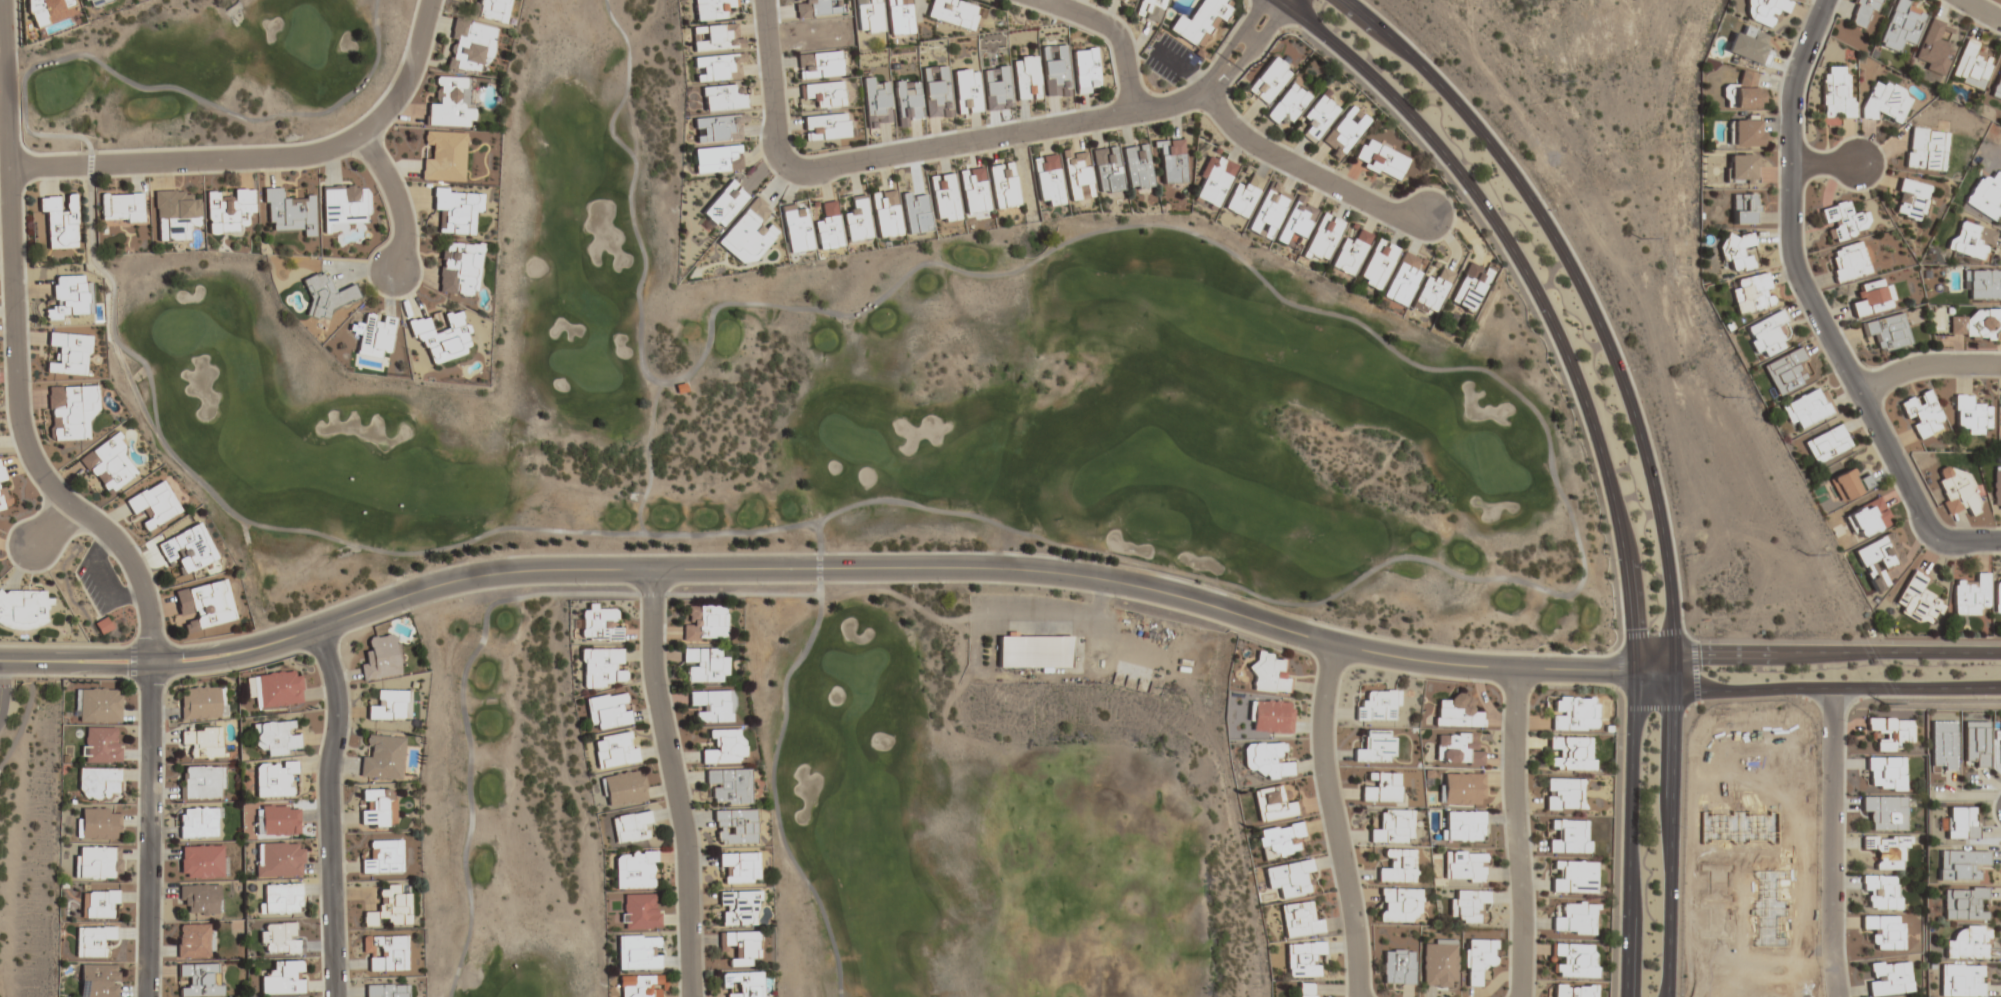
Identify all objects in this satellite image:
building: (1120, 0)
road: (1281, 2)
road: (1286, 2)
building: (93, 3)
building: (490, 9)
building: (711, 9)
building: (1149, 9)
building: (1764, 10)
road: (1981, 10)
building: (953, 12)
building: (1862, 12)
building: (52, 15)
building: (867, 16)
building: (898, 17)
street lamp: (1968, 20)
building: (1199, 22)
building: (1901, 26)
road: (1110, 31)
building: (715, 37)
road: (1233, 41)
street lamp: (1311, 46)
building: (1934, 46)
building: (469, 47)
building: (1749, 47)
road: (1251, 49)
street lamp: (1423, 54)
building: (819, 64)
building: (1971, 66)
building: (1085, 69)
park: (203, 72)
building: (1025, 78)
street lamp: (1178, 78)
street lamp: (757, 79)
building: (1269, 81)
power tower: (1559, 82)
building: (1996, 87)
building: (966, 91)
building: (1743, 93)
building: (823, 94)
building: (1834, 94)
building: (721, 98)
building: (449, 102)
building: (1885, 102)
building: (1287, 104)
building: (1317, 118)
street lamp: (1145, 125)
building: (825, 126)
building: (1344, 132)
building: (1743, 132)
road: (917, 149)
building: (1925, 149)
building: (443, 156)
road: (267, 159)
building: (716, 159)
building: (1379, 160)
building: (1171, 161)
road: (1824, 163)
building: (1137, 167)
street lamp: (1434, 167)
building: (1741, 168)
street lamp: (893, 169)
building: (1107, 169)
road: (1307, 171)
building: (1076, 174)
building: (1047, 180)
building: (1213, 180)
building: (1002, 185)
building: (973, 190)
building: (1242, 196)
building: (1986, 196)
street lamp: (23, 197)
building: (943, 197)
street lamp: (1543, 199)
building: (1910, 199)
road: (397, 200)
building: (344, 204)
building: (724, 204)
building: (121, 208)
building: (1743, 209)
building: (456, 210)
building: (288, 211)
building: (228, 212)
building: (885, 213)
building: (175, 215)
building: (856, 220)
building: (59, 221)
building: (1843, 221)
building: (1295, 223)
building: (795, 227)
building: (828, 227)
street lamp: (1452, 230)
building: (748, 233)
building: (1322, 238)
power tower: (1639, 239)
building: (1971, 240)
building: (1736, 251)
building: (1349, 253)
building: (1848, 262)
building: (1376, 264)
building: (458, 269)
building: (1402, 279)
building: (1984, 285)
building: (1469, 287)
building: (1433, 289)
building: (326, 294)
building: (1752, 294)
building: (69, 298)
building: (1871, 298)
road: (1815, 309)
street lamp: (1529, 313)
building: (1976, 324)
building: (1887, 332)
building: (375, 335)
building: (1767, 335)
building: (441, 337)
building: (69, 354)
road: (1927, 365)
street lamp: (1628, 367)
building: (1786, 371)
street lamp: (1831, 371)
street lamp: (31, 382)
power tower: (1724, 398)
building: (1807, 408)
building: (70, 411)
building: (1922, 414)
building: (1971, 416)
building: (1827, 444)
road: (1598, 447)
road: (1645, 449)
road: (643, 457)
building: (109, 465)
building: (1, 474)
building: (1850, 484)
building: (1957, 492)
building: (1997, 492)
building: (1, 500)
road: (76, 502)
building: (153, 505)
building: (1867, 518)
street lamp: (1906, 519)
road: (52, 522)
park: (867, 538)
street lamp: (137, 547)
building: (186, 549)
power tower: (1810, 556)
street lamp: (1607, 559)
building: (1878, 560)
street lamp: (11, 566)
road: (815, 573)
parking lot: (99, 581)
road: (1210, 583)
building: (1971, 596)
building: (1997, 597)
building: (1918, 600)
building: (204, 605)
road: (487, 607)
building: (23, 609)
building: (704, 624)
building: (102, 625)
building: (598, 625)
street lamp: (1701, 637)
street lamp: (1884, 639)
building: (1034, 652)
road: (1815, 655)
building: (380, 658)
building: (704, 666)
building: (601, 667)
street lamp: (233, 670)
building: (1267, 674)
building: (275, 688)
road: (1813, 690)
street lamp: (1788, 699)
street lamp: (1976, 699)
building: (202, 703)
power tower: (1887, 703)
building: (713, 705)
building: (1377, 705)
building: (390, 706)
building: (96, 707)
building: (608, 711)
building: (1457, 712)
building: (1574, 714)
road: (26, 715)
building: (1269, 716)
building: (1890, 732)
street lamp: (1617, 734)
building: (276, 737)
building: (202, 742)
building: (1976, 745)
building: (99, 747)
building: (1375, 747)
building: (724, 748)
building: (1942, 748)
building: (615, 750)
building: (1457, 750)
building: (1570, 753)
building: (382, 759)
building: (1265, 760)
street lamp: (164, 765)
building: (1885, 773)
building: (272, 778)
building: (201, 782)
road: (673, 784)
building: (97, 785)
street lamp: (342, 785)
building: (728, 786)
building: (624, 788)
building: (1381, 788)
building: (1461, 789)
building: (1563, 794)
road: (772, 796)
building: (1273, 804)
building: (377, 808)
road: (328, 810)
building: (1886, 812)
street lamp: (1532, 816)
building: (276, 821)
road: (1332, 821)
building: (198, 822)
building: (1960, 822)
building: (98, 826)
building: (734, 826)
building: (1463, 826)
building: (631, 827)
building: (1393, 827)
street lamp: (1682, 827)
road: (1517, 832)
park: (28, 834)
building: (1569, 837)
building: (1280, 841)
road: (1834, 843)
building: (1886, 851)
building: (383, 857)
building: (277, 861)
building: (201, 862)
building: (96, 863)
building: (1959, 865)
building: (738, 867)
building: (1397, 867)
building: (1465, 867)
building: (635, 870)
building: (1574, 877)
building: (1288, 878)
building: (1881, 891)
building: (200, 899)
building: (279, 899)
building: (1962, 903)
building: (98, 904)
building: (1398, 905)
building: (1468, 906)
building: (390, 908)
building: (738, 908)
building: (639, 912)
street lamp: (1612, 916)
building: (1575, 919)
street lamp: (162, 920)
building: (1299, 920)
building: (1885, 931)
building: (279, 939)
building: (91, 940)
building: (194, 941)
building: (1967, 943)
building: (638, 952)
building: (385, 953)
building: (1302, 958)
building: (1478, 960)
building: (1574, 961)
building: (1439, 964)
building: (1397, 967)
building: (1889, 978)
building: (282, 979)
building: (98, 980)
building: (201, 980)
building: (1961, 980)
building: (743, 983)
building: (640, 985)
building: (386, 990)
building: (1306, 990)
building: (1572, 990)
street lamp: (1678, 994)

